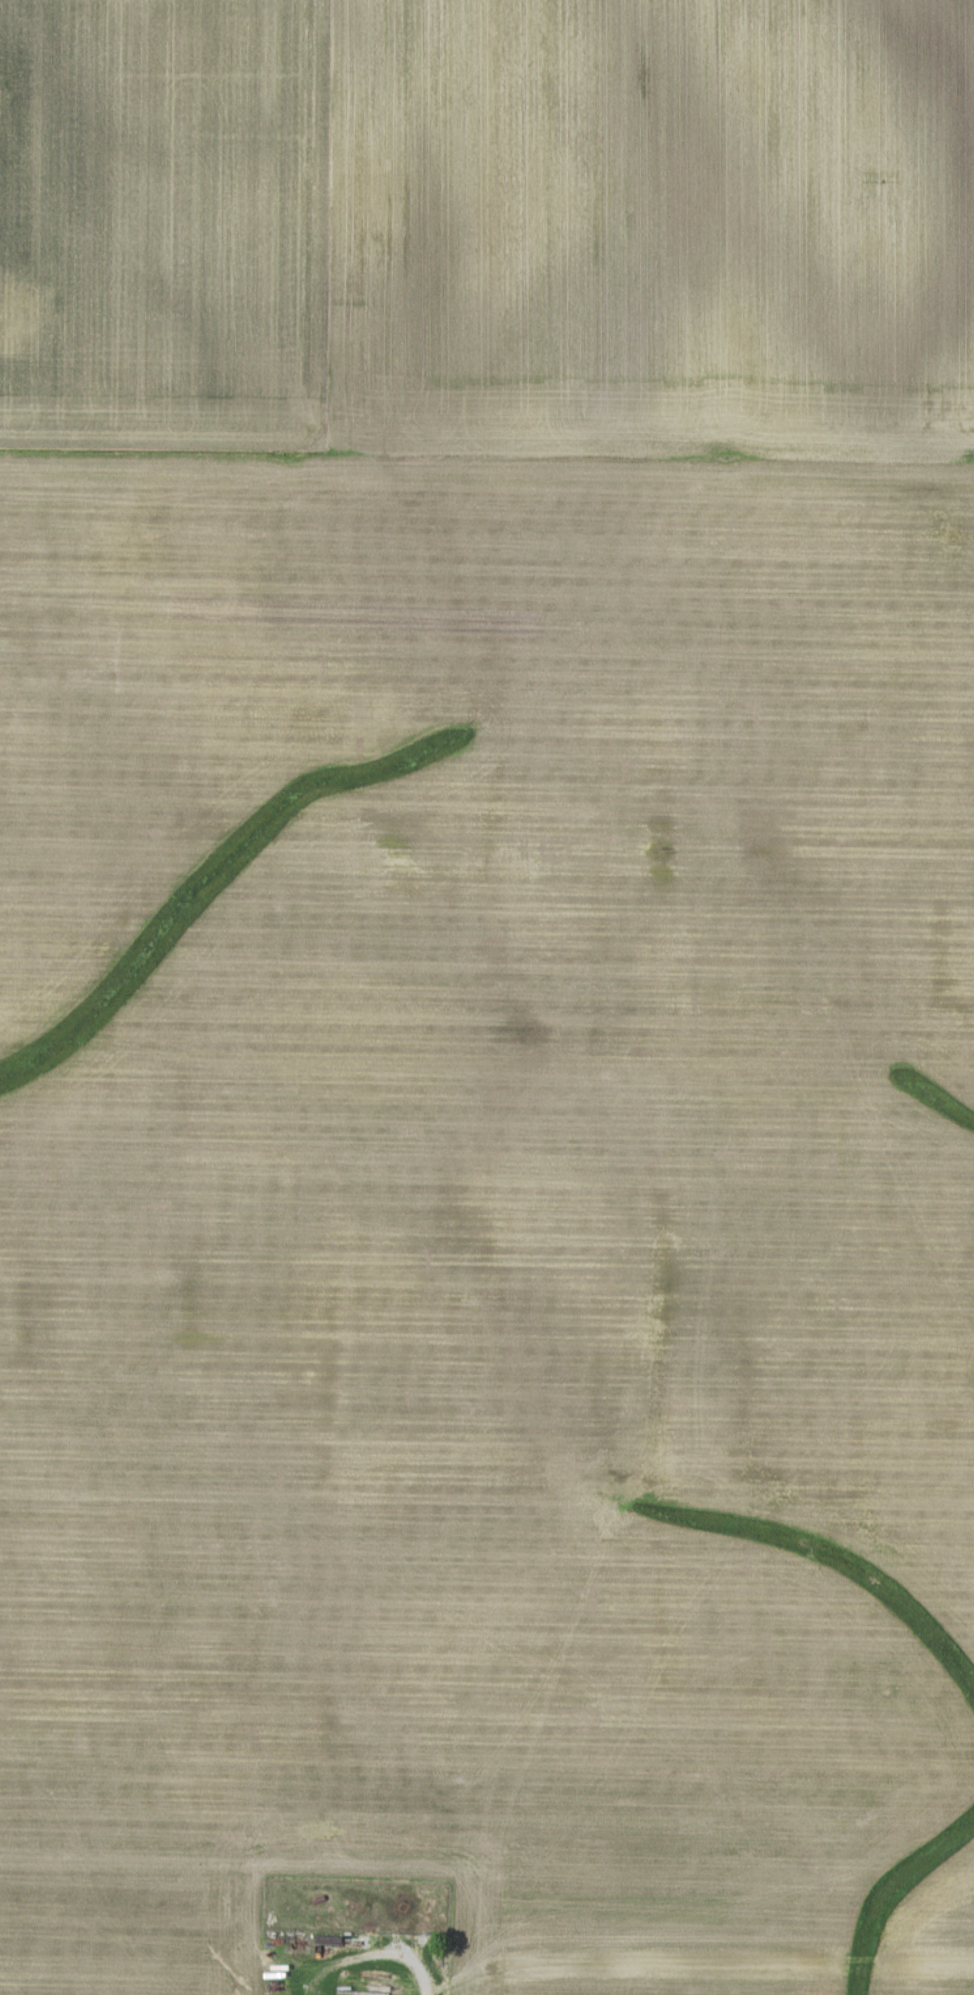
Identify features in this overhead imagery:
road: (390, 1956)

